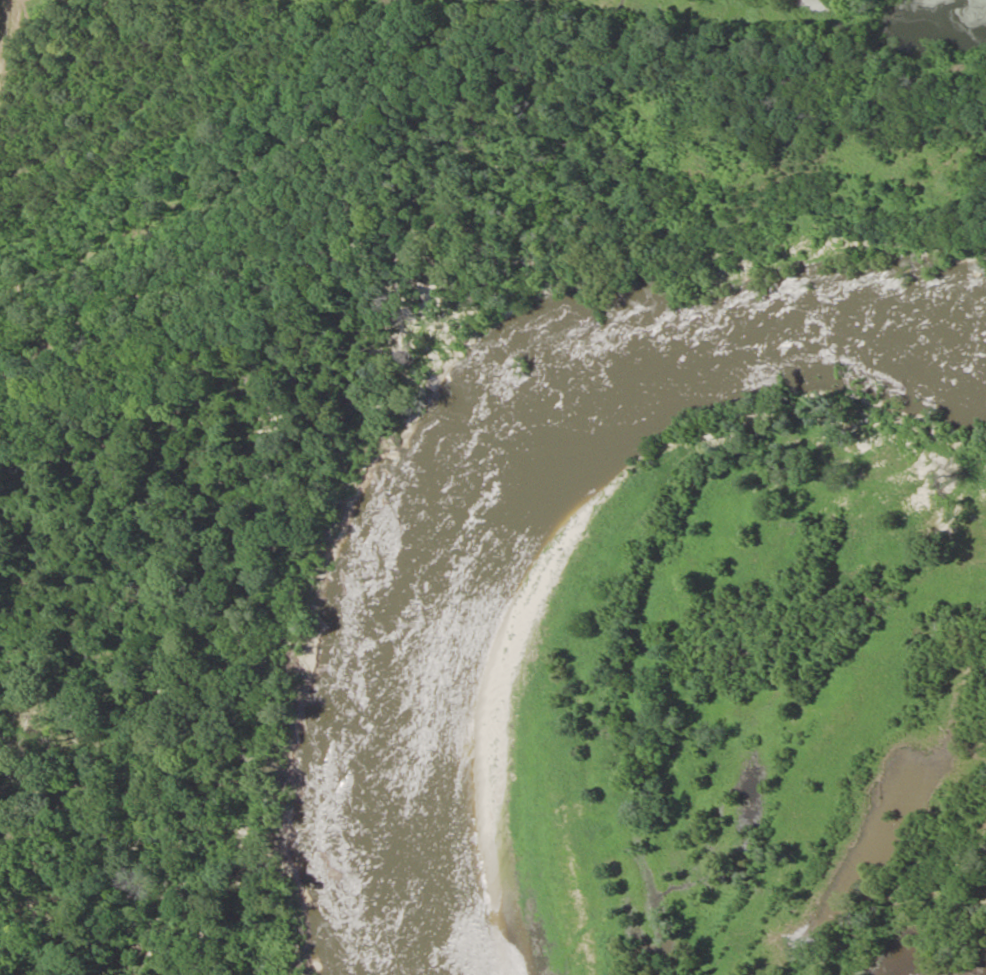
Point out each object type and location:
river: (508, 476)

